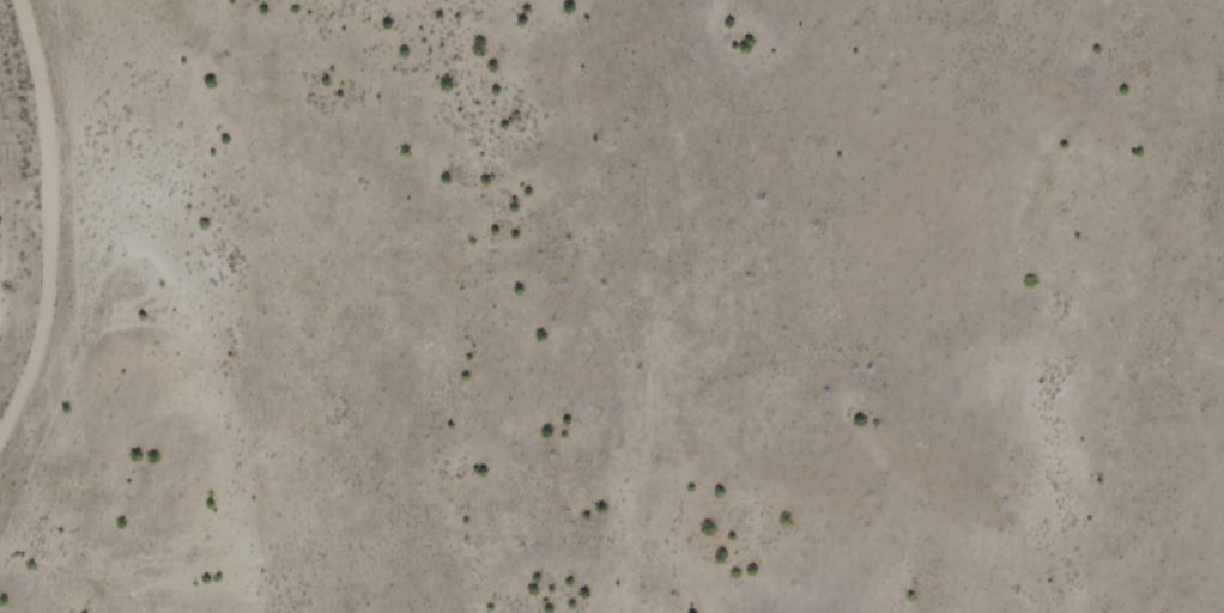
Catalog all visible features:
road: (55, 223)

